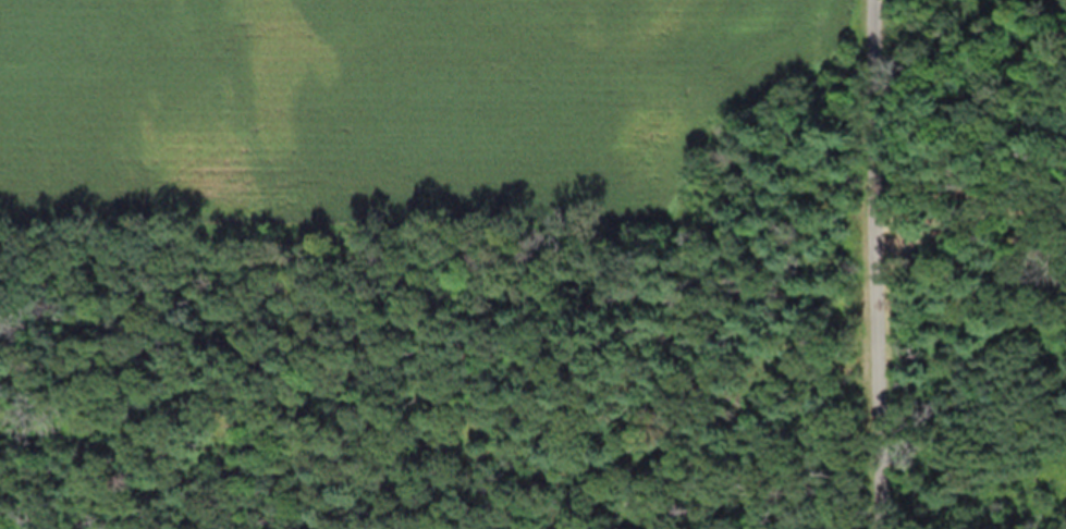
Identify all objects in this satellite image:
road: (967, 230)
road: (878, 264)

